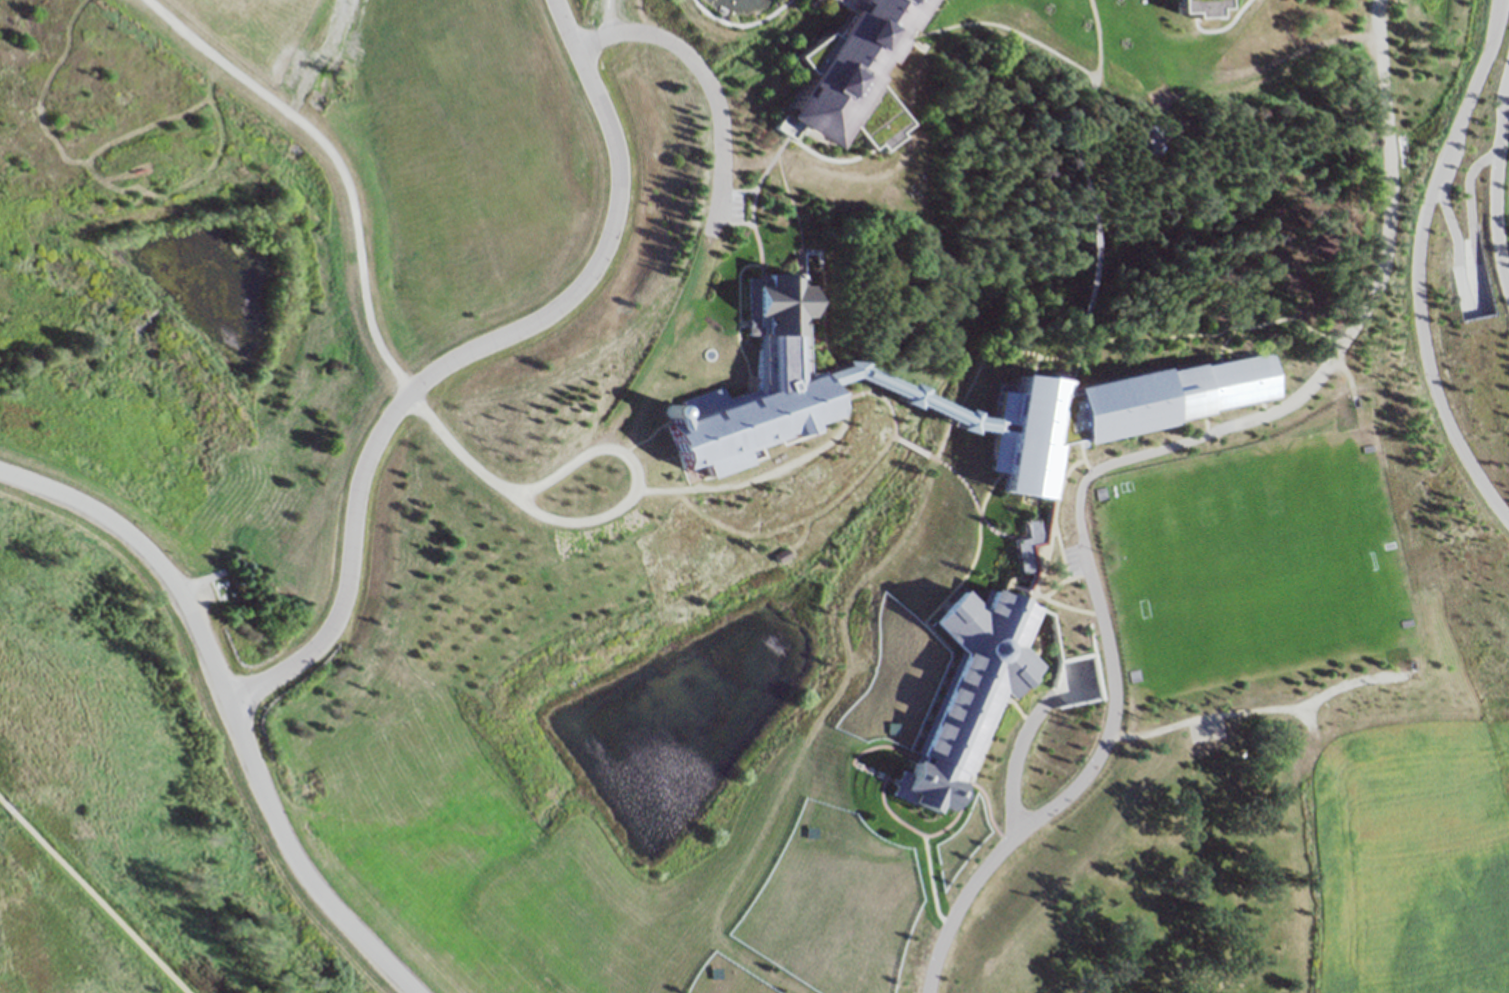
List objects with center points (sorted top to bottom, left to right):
road: (838, 5)
building: (1194, 5)
park: (737, 6)
road: (1188, 7)
road: (1203, 11)
road: (605, 17)
road: (1223, 27)
building: (843, 72)
road: (706, 77)
road: (1089, 84)
building: (1134, 138)
road: (828, 156)
road: (332, 159)
road: (1494, 189)
road: (1084, 200)
road: (1446, 208)
road: (790, 211)
road: (1471, 227)
road: (757, 259)
road: (1082, 262)
road: (1416, 265)
road: (1070, 333)
road: (1148, 334)
road: (460, 353)
building: (781, 372)
building: (902, 392)
road: (877, 393)
building: (1107, 406)
road: (647, 433)
road: (829, 434)
road: (913, 442)
road: (926, 448)
road: (1077, 455)
road: (1107, 459)
road: (948, 465)
road: (599, 505)
road: (974, 524)
road: (1043, 525)
park: (1249, 564)
building: (1063, 567)
road: (1057, 568)
road: (1064, 602)
road: (935, 638)
building: (960, 686)
road: (1260, 706)
road: (227, 707)
road: (863, 746)
park: (143, 753)
road: (1015, 764)
road: (953, 816)
crop: (1415, 866)
road: (91, 898)

